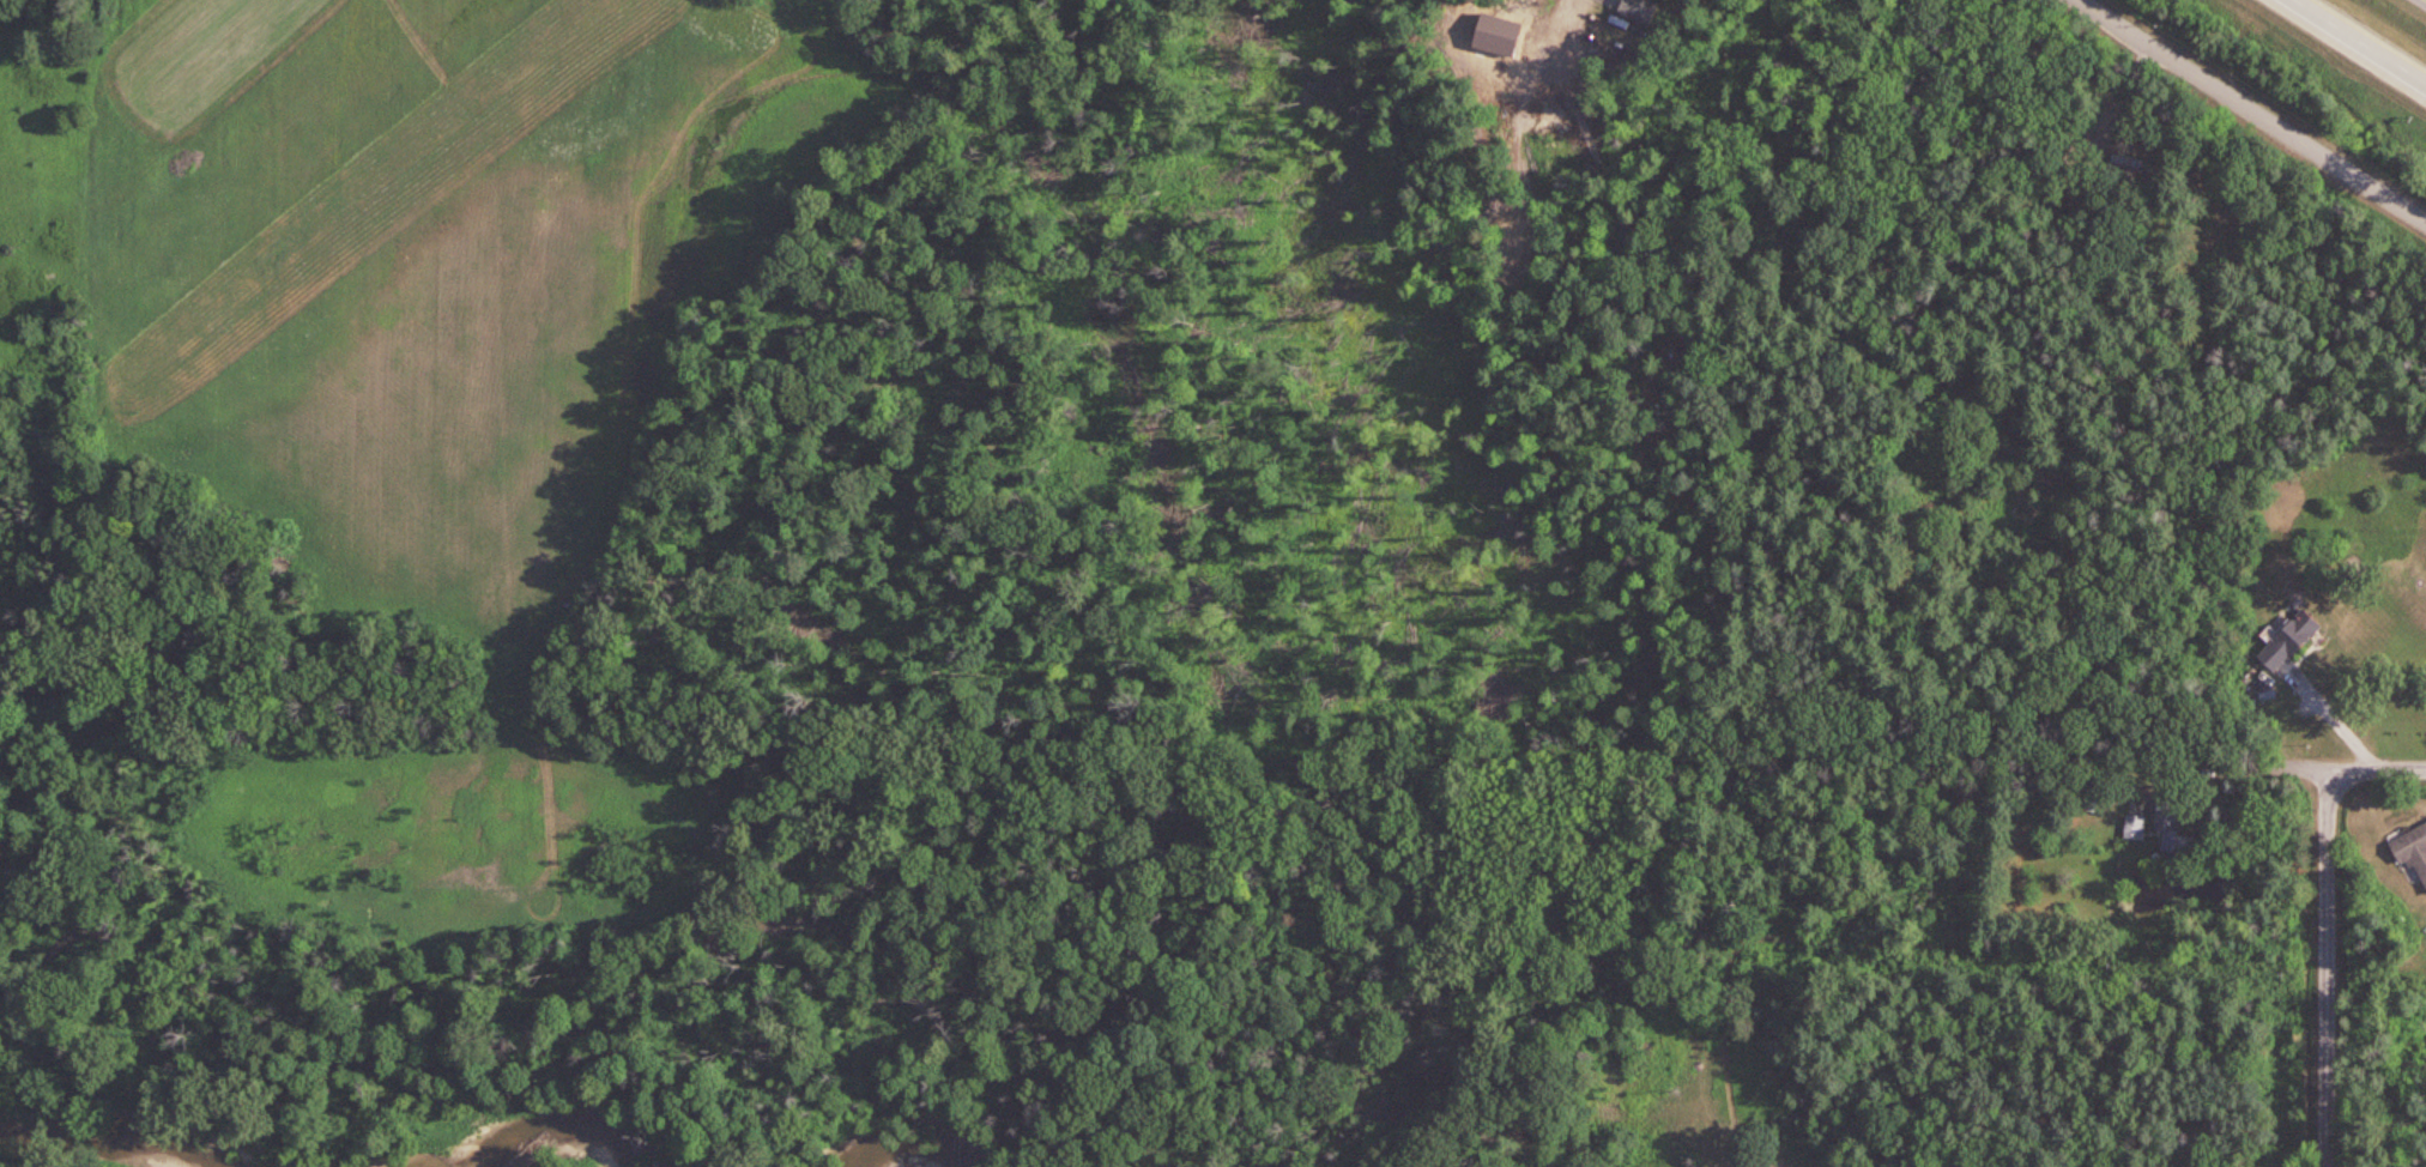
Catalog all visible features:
building: (1639, 10)
road: (2359, 42)
road: (2118, 102)
road: (2252, 110)
building: (2131, 169)
building: (2286, 641)
road: (2378, 767)
building: (2171, 824)
building: (2412, 847)
road: (2329, 967)
river: (530, 1133)
river: (92, 1139)

